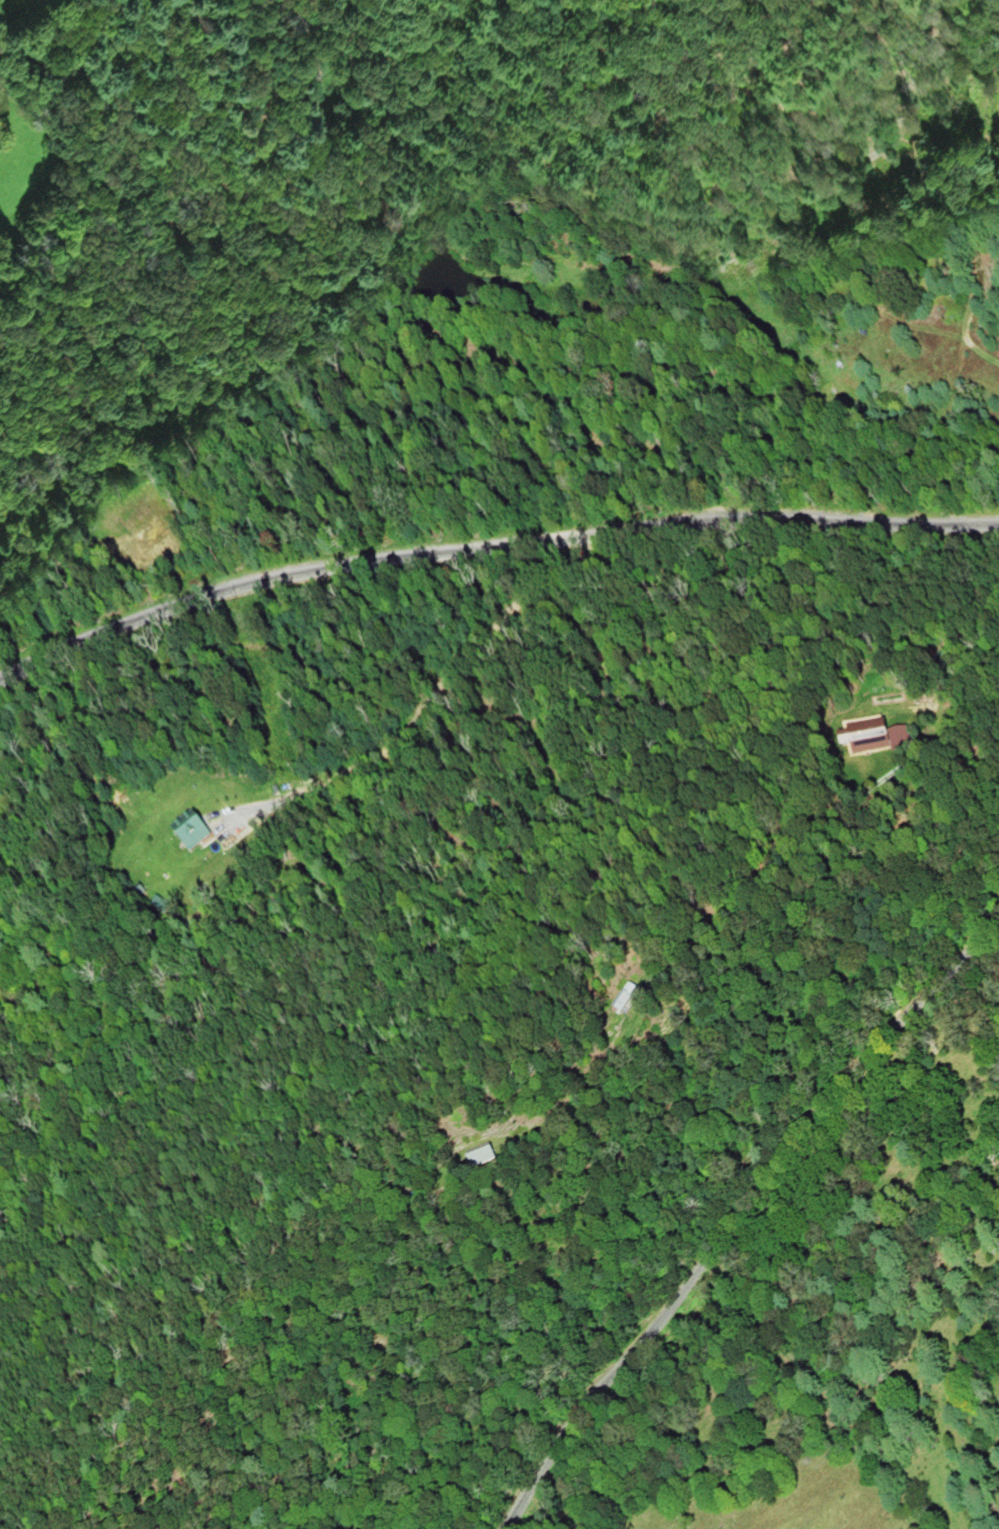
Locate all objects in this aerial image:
road: (489, 551)
road: (429, 694)
building: (196, 832)
building: (625, 1000)
road: (733, 1198)

